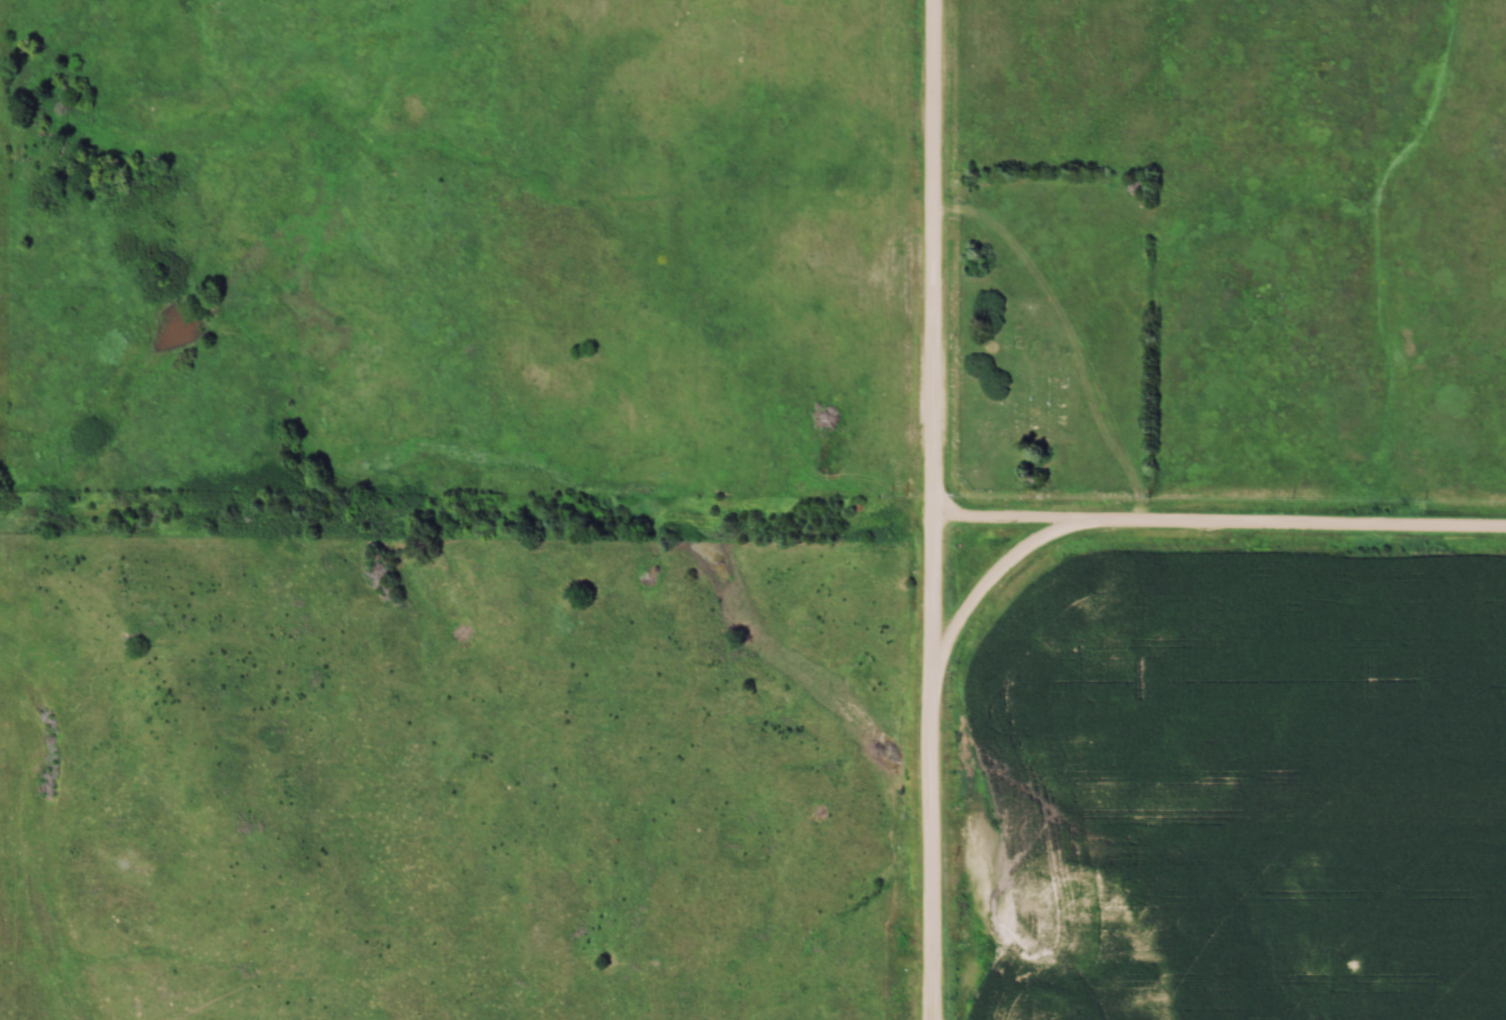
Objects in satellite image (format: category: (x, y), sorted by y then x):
road: (933, 260)
road: (1219, 527)
road: (991, 580)
road: (935, 771)

